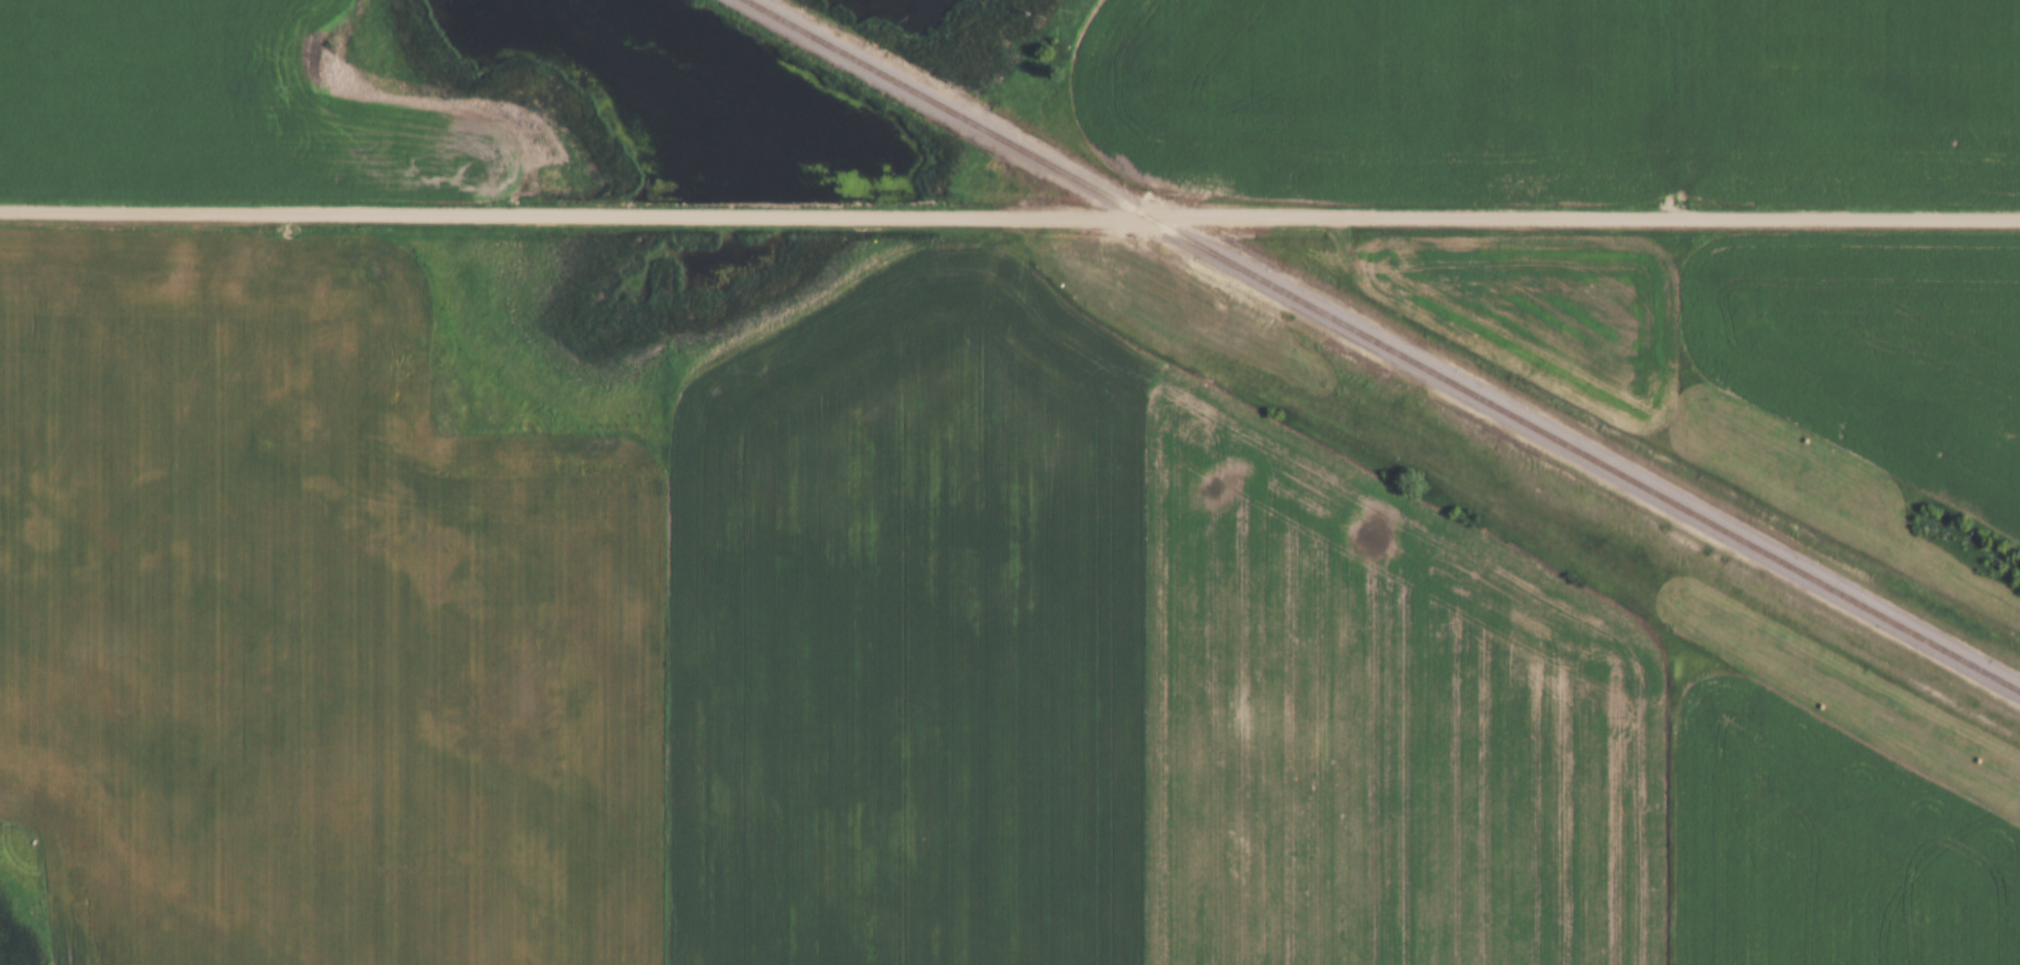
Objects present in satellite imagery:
road: (1009, 213)
railway: (1386, 344)

